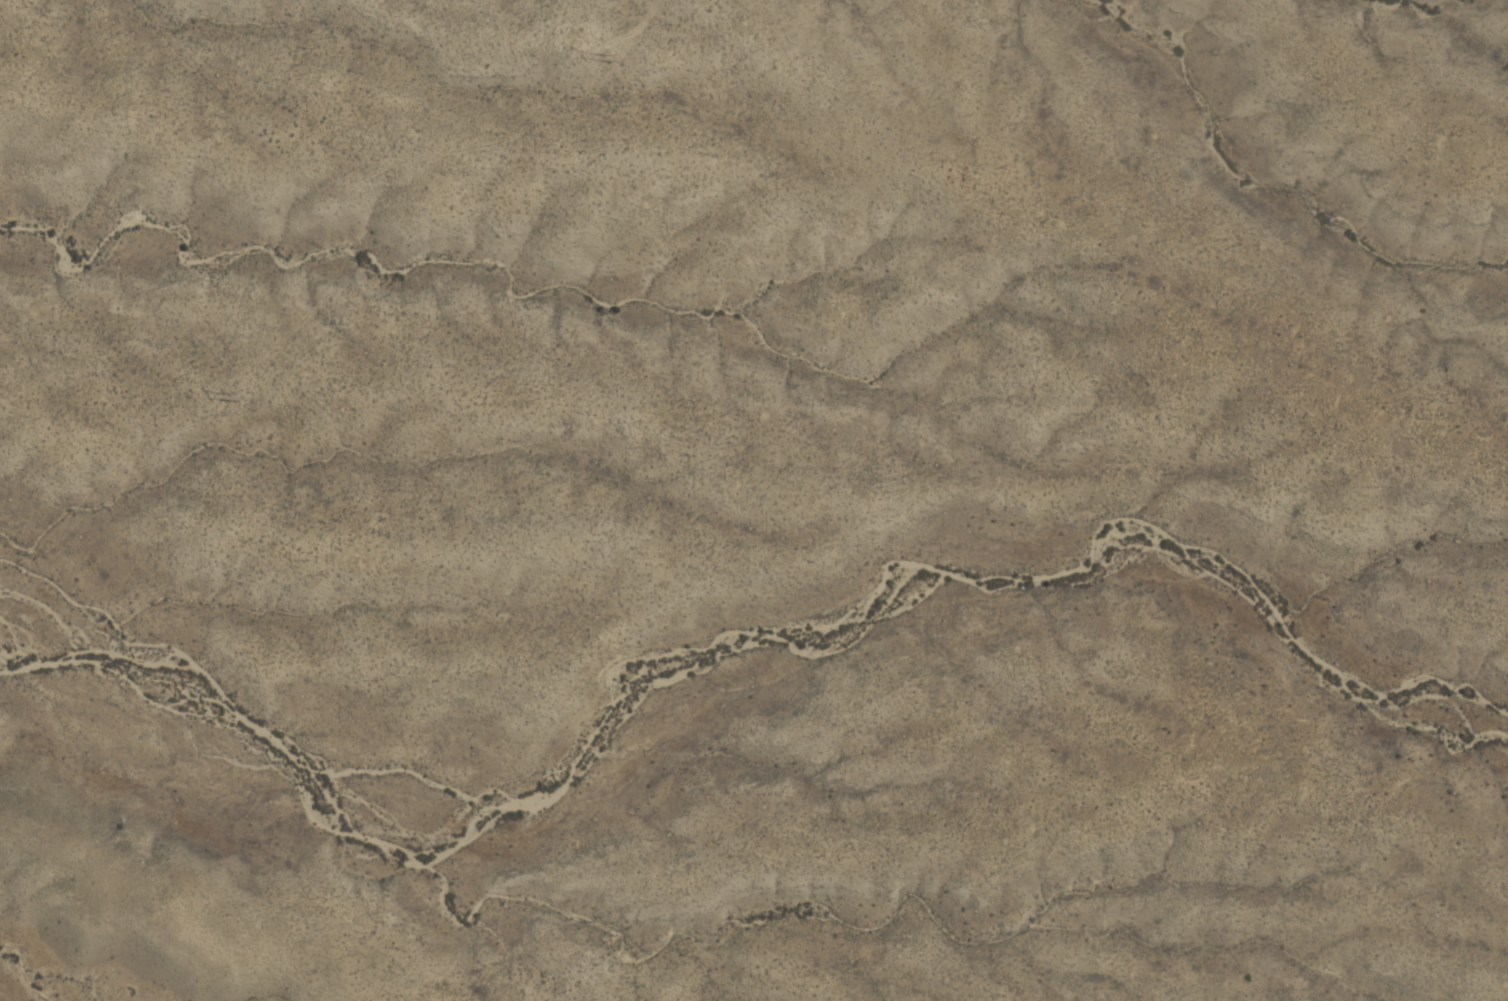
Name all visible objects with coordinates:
power tower: (603, 56)
power tower: (227, 396)

